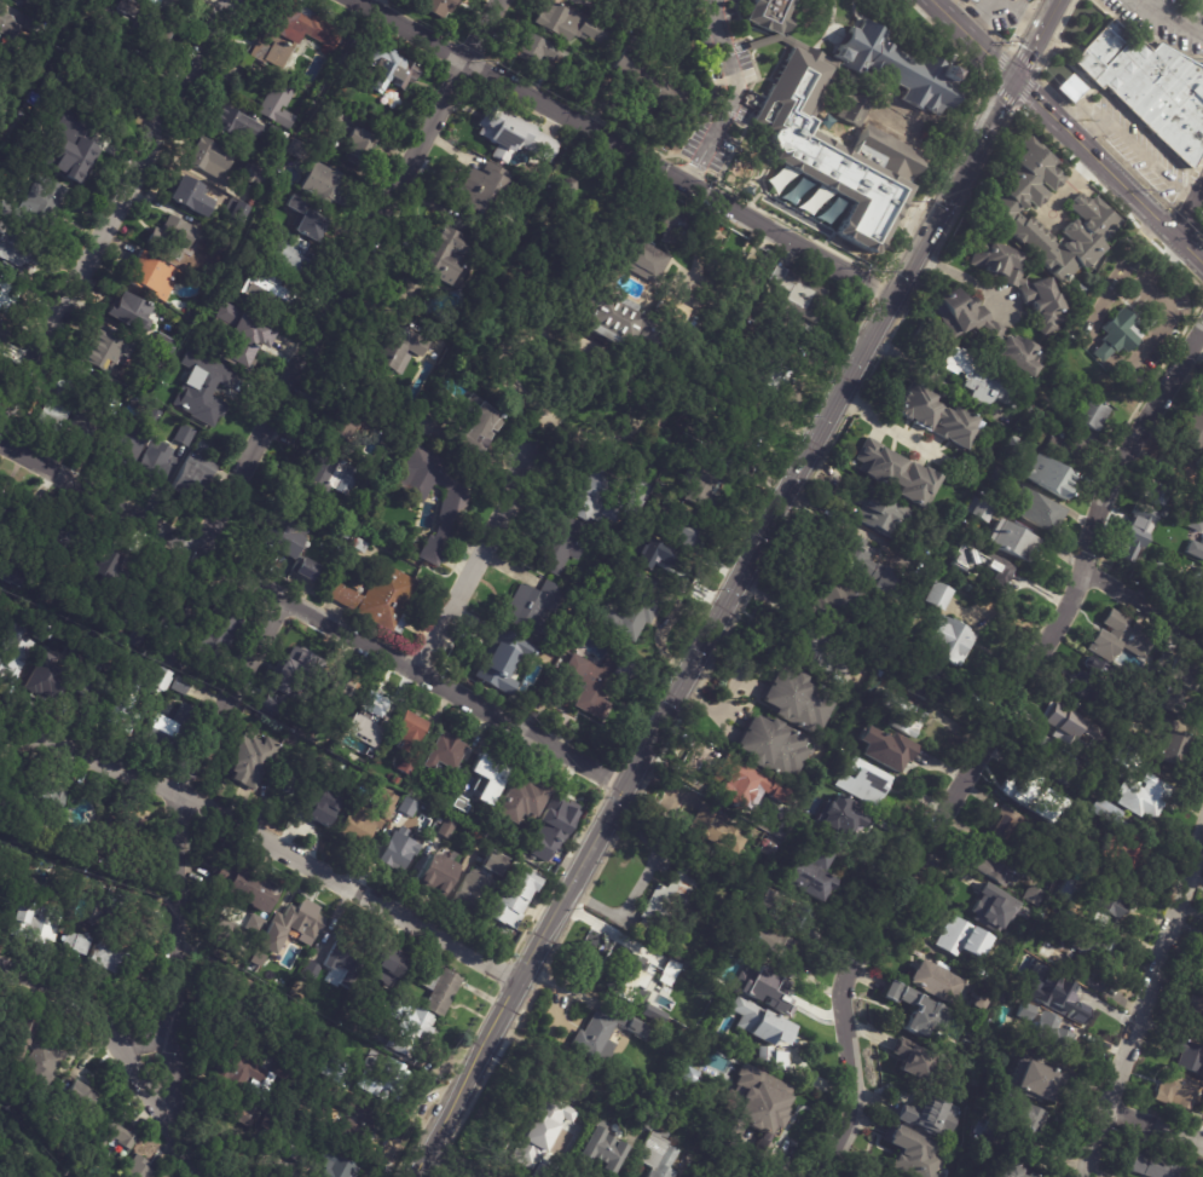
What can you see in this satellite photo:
building: (1024, 0)
building: (24, 1)
building: (971, 1)
building: (154, 2)
building: (129, 7)
building: (439, 7)
road: (1195, 13)
road: (1174, 18)
building: (567, 23)
building: (7, 27)
building: (288, 34)
building: (534, 52)
building: (382, 67)
building: (132, 68)
traffic signals: (1008, 80)
building: (646, 82)
building: (50, 87)
building: (1145, 87)
building: (1069, 88)
building: (567, 90)
road: (730, 93)
building: (277, 104)
building: (797, 109)
building: (409, 110)
building: (340, 116)
building: (866, 117)
building: (236, 125)
road: (1065, 133)
building: (276, 134)
building: (513, 137)
building: (358, 146)
road: (621, 146)
building: (64, 149)
building: (210, 160)
building: (810, 167)
building: (753, 174)
building: (255, 175)
building: (322, 184)
building: (478, 189)
building: (802, 195)
building: (191, 197)
building: (294, 202)
building: (35, 206)
building: (236, 210)
road: (114, 212)
building: (1091, 212)
road: (1190, 217)
building: (308, 226)
building: (676, 229)
building: (173, 235)
building: (220, 244)
building: (17, 249)
building: (284, 250)
building: (444, 252)
building: (642, 261)
building: (1133, 264)
road: (349, 275)
road: (962, 275)
building: (151, 276)
building: (1020, 281)
building: (265, 290)
building: (1076, 290)
building: (799, 296)
building: (10, 298)
building: (131, 313)
building: (630, 321)
building: (988, 327)
building: (1117, 333)
building: (4, 334)
building: (244, 334)
building: (162, 345)
building: (97, 350)
building: (395, 351)
building: (978, 379)
building: (202, 387)
building: (452, 391)
building: (62, 399)
building: (1092, 411)
building: (1033, 412)
building: (937, 415)
building: (85, 420)
building: (345, 420)
building: (399, 420)
building: (424, 422)
road: (887, 423)
building: (476, 426)
building: (1195, 427)
building: (740, 429)
building: (185, 435)
building: (126, 443)
building: (1016, 444)
building: (1071, 445)
building: (1161, 458)
building: (1197, 460)
building: (154, 465)
building: (895, 473)
building: (1048, 473)
building: (1000, 475)
building: (191, 479)
building: (326, 481)
building: (704, 486)
building: (1153, 490)
building: (1179, 495)
building: (602, 501)
building: (1037, 508)
building: (984, 509)
building: (6, 510)
building: (1164, 510)
building: (883, 512)
building: (450, 515)
building: (1185, 519)
building: (937, 531)
building: (345, 533)
building: (1132, 536)
building: (1011, 540)
building: (50, 544)
building: (561, 544)
building: (669, 544)
building: (359, 547)
building: (1195, 548)
building: (289, 552)
building: (652, 554)
building: (110, 561)
building: (983, 562)
building: (872, 566)
road: (473, 567)
building: (1156, 569)
building: (11, 577)
building: (1196, 582)
road: (728, 585)
building: (939, 594)
building: (381, 600)
building: (139, 602)
building: (839, 604)
building: (103, 608)
building: (533, 608)
road: (1144, 608)
building: (634, 610)
road: (311, 612)
building: (178, 613)
building: (41, 633)
building: (214, 636)
building: (949, 639)
building: (1122, 641)
building: (79, 651)
building: (811, 651)
building: (12, 654)
building: (169, 656)
building: (498, 664)
building: (297, 679)
building: (929, 681)
building: (1093, 681)
building: (1179, 681)
building: (160, 682)
building: (47, 683)
building: (586, 686)
building: (89, 687)
road: (734, 692)
building: (337, 698)
building: (798, 698)
building: (127, 710)
building: (366, 711)
building: (902, 711)
building: (280, 715)
building: (1063, 721)
building: (173, 729)
building: (409, 740)
building: (1170, 742)
building: (771, 745)
building: (887, 746)
road: (983, 749)
building: (366, 750)
building: (447, 754)
building: (1124, 755)
building: (249, 760)
building: (1058, 762)
building: (339, 768)
building: (461, 771)
building: (486, 780)
building: (394, 783)
building: (7, 786)
building: (738, 786)
building: (872, 787)
building: (1025, 790)
building: (1145, 794)
building: (45, 796)
building: (388, 797)
building: (519, 802)
building: (1076, 804)
building: (458, 806)
building: (319, 808)
building: (407, 808)
building: (1105, 813)
building: (559, 819)
building: (854, 821)
building: (357, 825)
building: (1013, 829)
building: (444, 830)
building: (713, 830)
building: (117, 837)
road: (265, 842)
road: (175, 844)
building: (771, 847)
building: (1129, 848)
building: (398, 852)
building: (542, 854)
building: (493, 864)
building: (996, 866)
building: (816, 867)
building: (435, 875)
building: (241, 887)
building: (1066, 890)
building: (470, 892)
building: (670, 895)
building: (1034, 895)
building: (511, 899)
building: (1106, 901)
building: (997, 906)
building: (108, 911)
building: (788, 912)
building: (31, 922)
building: (254, 924)
building: (293, 927)
road: (609, 929)
building: (229, 934)
building: (964, 939)
building: (74, 944)
building: (773, 946)
building: (1047, 948)
building: (1092, 948)
building: (106, 953)
building: (343, 960)
building: (384, 965)
building: (671, 969)
building: (310, 971)
building: (1199, 974)
building: (625, 975)
building: (935, 981)
building: (764, 983)
building: (439, 988)
building: (981, 996)
building: (1060, 998)
road: (1145, 1003)
building: (919, 1011)
building: (1193, 1012)
building: (760, 1022)
building: (405, 1027)
building: (313, 1028)
building: (603, 1032)
building: (1051, 1034)
building: (16, 1038)
road: (149, 1042)
road: (121, 1049)
building: (1188, 1055)
building: (915, 1058)
building: (773, 1060)
building: (235, 1062)
building: (39, 1065)
building: (329, 1071)
building: (251, 1074)
building: (377, 1078)
building: (1035, 1080)
building: (571, 1081)
building: (1178, 1090)
building: (75, 1098)
building: (758, 1106)
building: (243, 1112)
building: (929, 1115)
building: (366, 1117)
building: (643, 1118)
building: (1025, 1119)
road: (1156, 1126)
building: (990, 1127)
building: (540, 1131)
building: (109, 1135)
building: (601, 1147)
building: (290, 1148)
building: (912, 1153)
building: (659, 1155)
building: (76, 1160)
road: (456, 1164)
building: (1155, 1165)
building: (332, 1166)
building: (138, 1169)
building: (1010, 1171)
building: (45, 1173)

